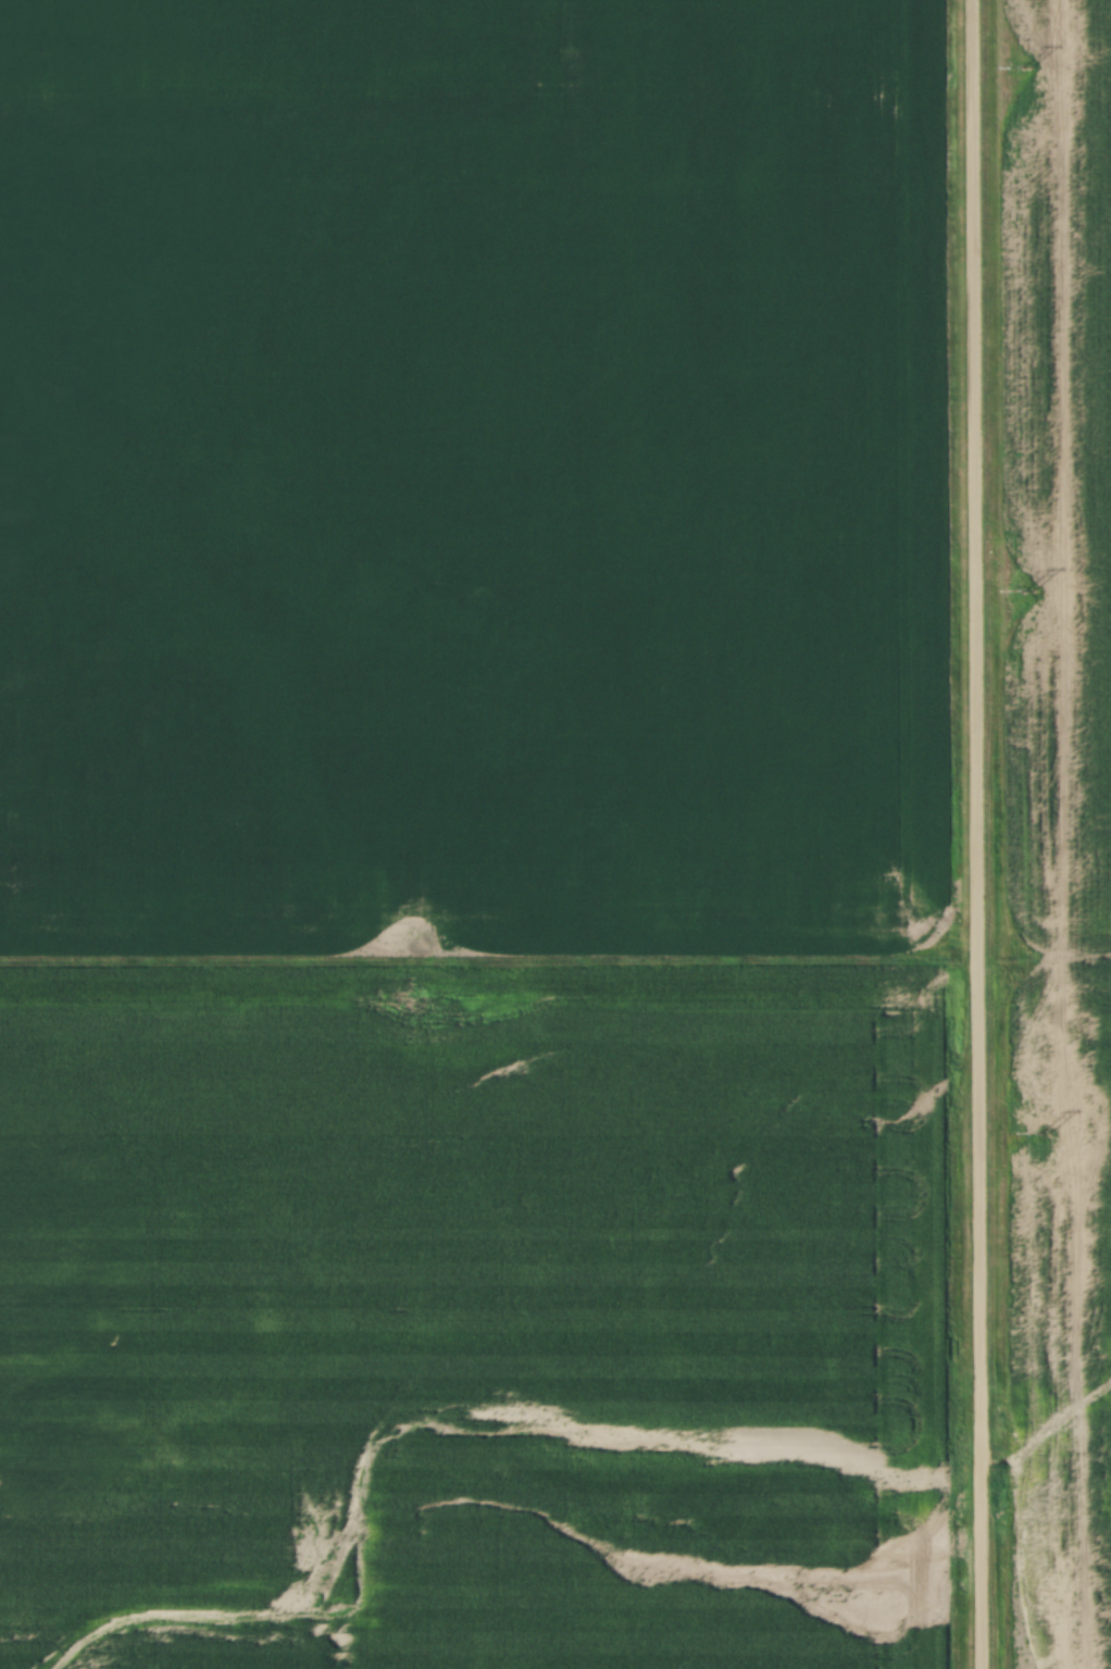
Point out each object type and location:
power tower: (1025, 70)
power tower: (1029, 593)
road: (979, 834)
power tower: (1045, 1134)

